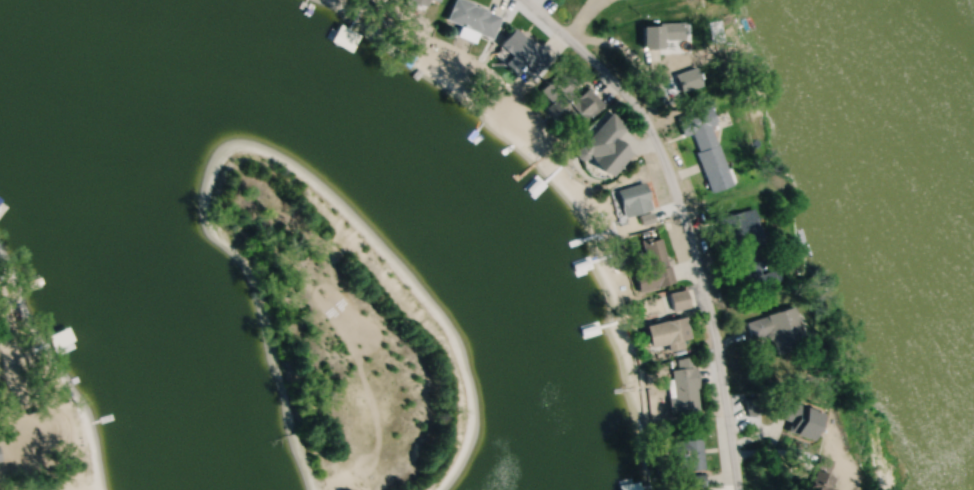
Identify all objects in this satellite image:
building: (427, 3)
building: (472, 19)
building: (661, 34)
building: (688, 80)
building: (574, 99)
building: (705, 140)
building: (604, 147)
building: (634, 199)
road: (690, 215)
building: (744, 248)
building: (653, 266)
building: (678, 301)
building: (778, 330)
building: (665, 334)
building: (684, 392)
building: (796, 418)
building: (688, 455)
building: (820, 479)
building: (696, 481)

